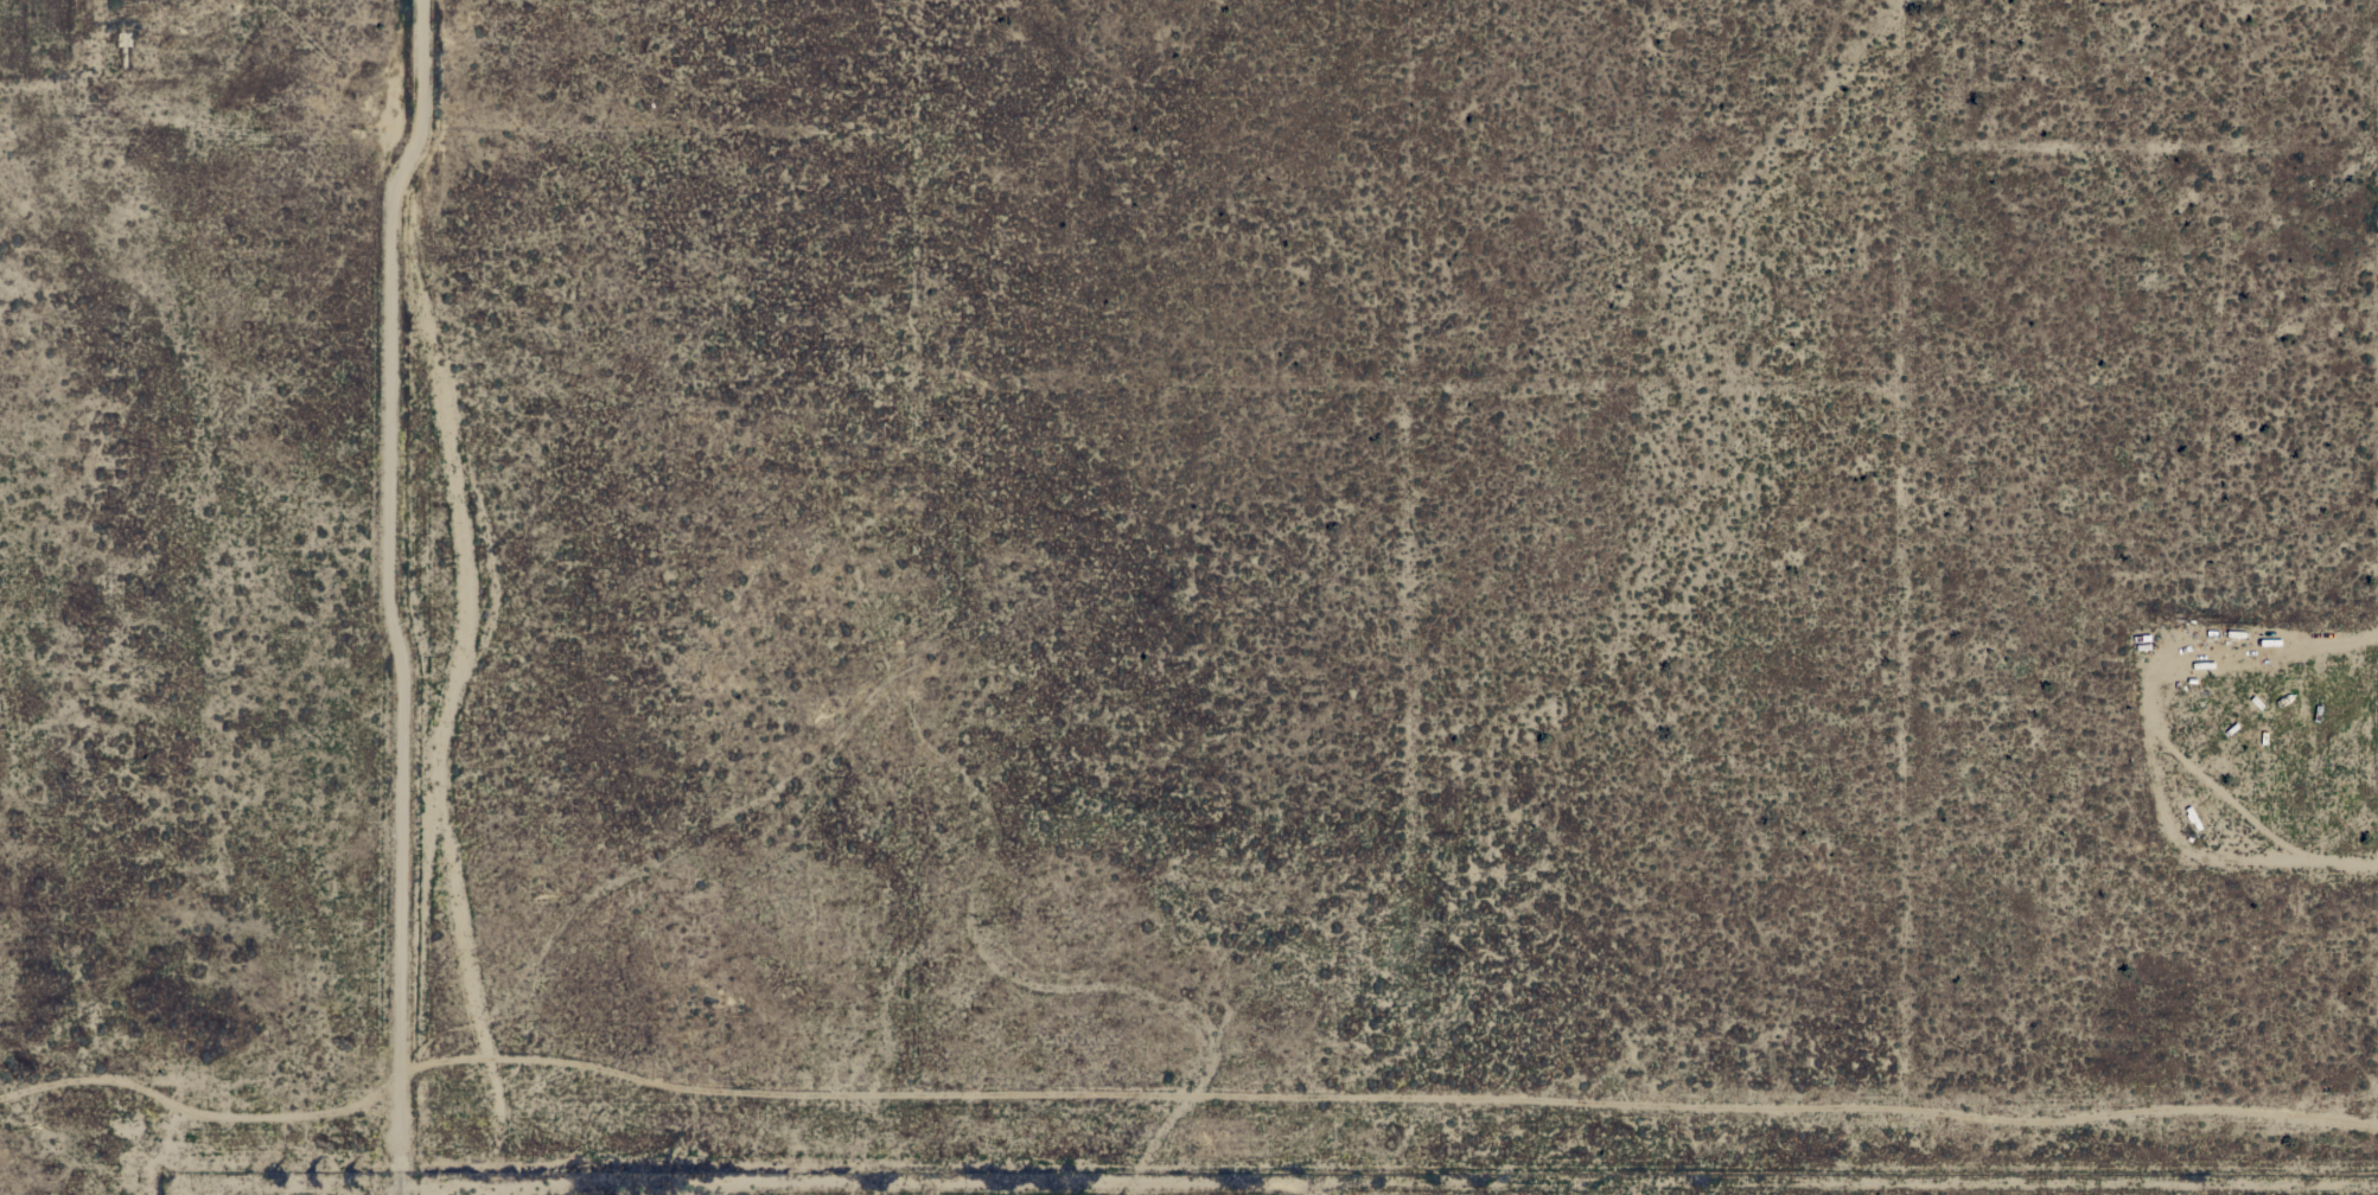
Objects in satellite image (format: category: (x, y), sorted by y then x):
road: (394, 595)
road: (1391, 1095)

